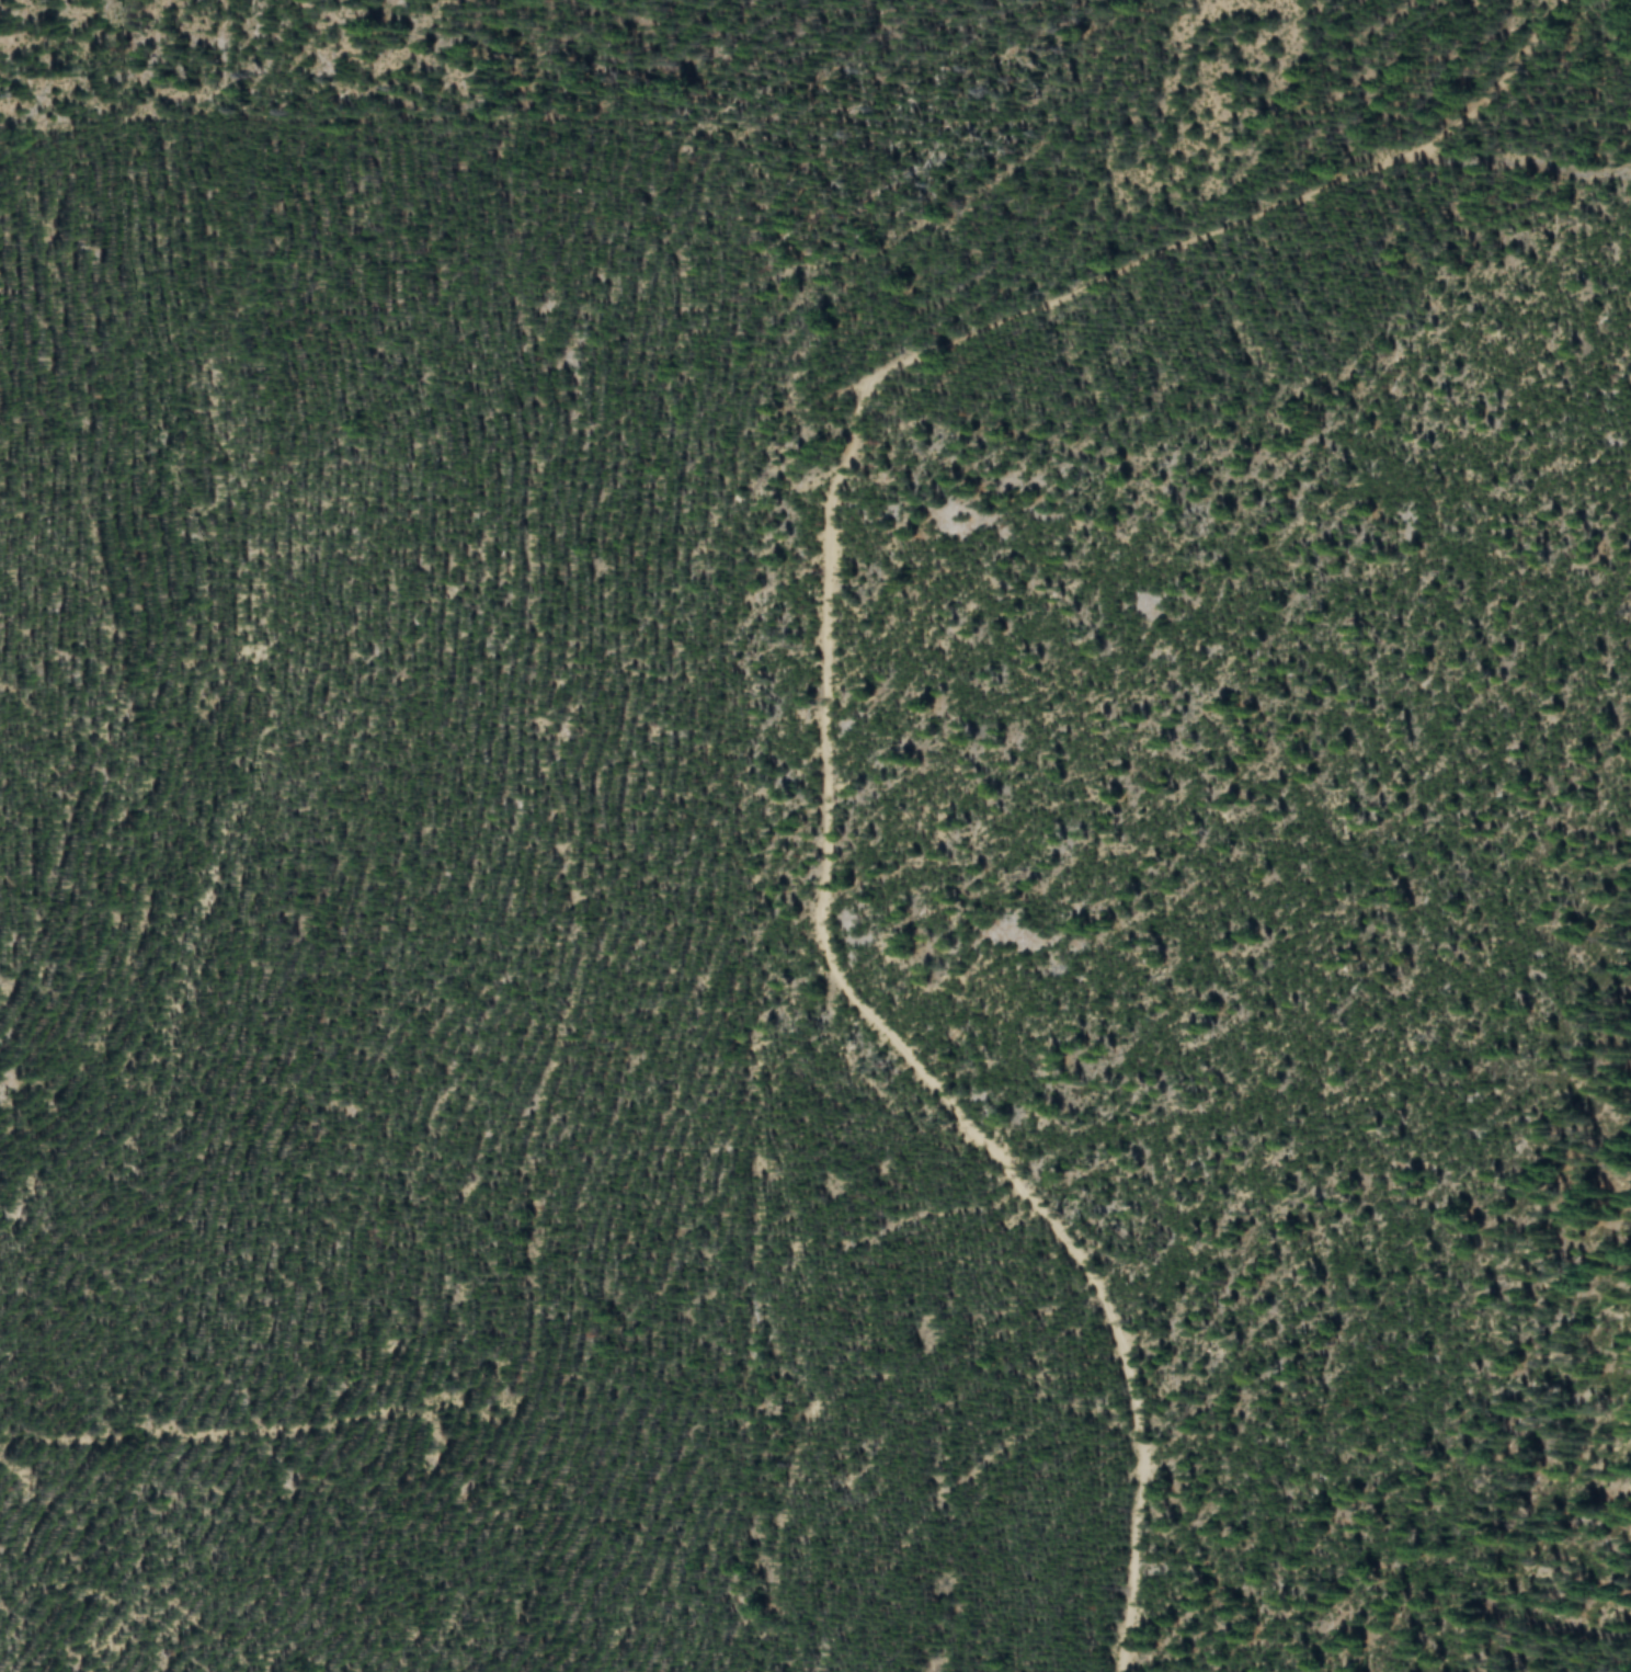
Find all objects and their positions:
road: (754, 662)

